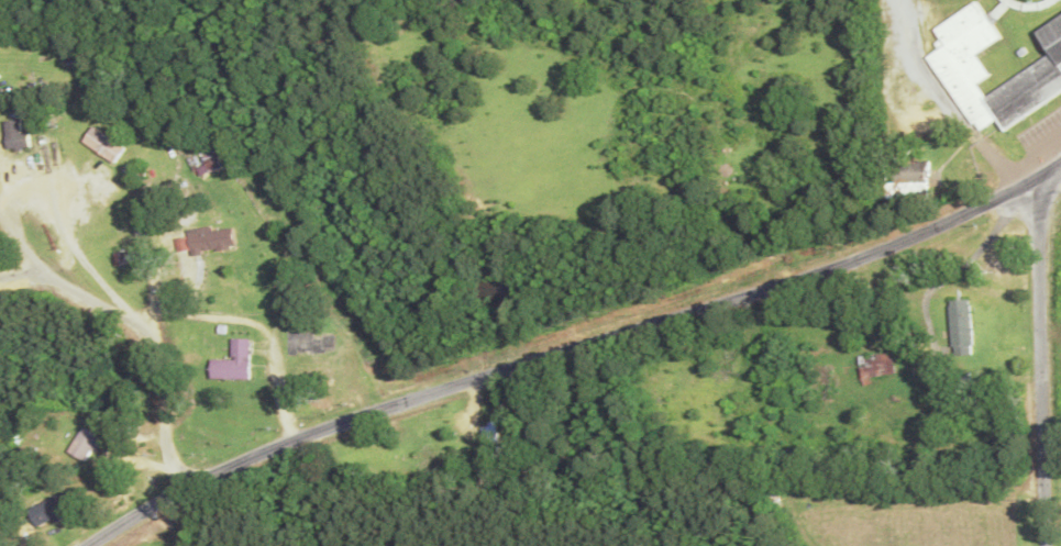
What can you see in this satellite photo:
building: (1052, 38)
building: (963, 57)
building: (1025, 90)
building: (14, 136)
building: (101, 144)
building: (206, 161)
building: (907, 179)
building: (208, 241)
road: (22, 253)
building: (122, 258)
road: (20, 276)
building: (959, 327)
road: (571, 348)
road: (157, 363)
building: (231, 363)
road: (1040, 365)
building: (874, 367)
building: (82, 446)
building: (49, 511)
building: (0, 545)

